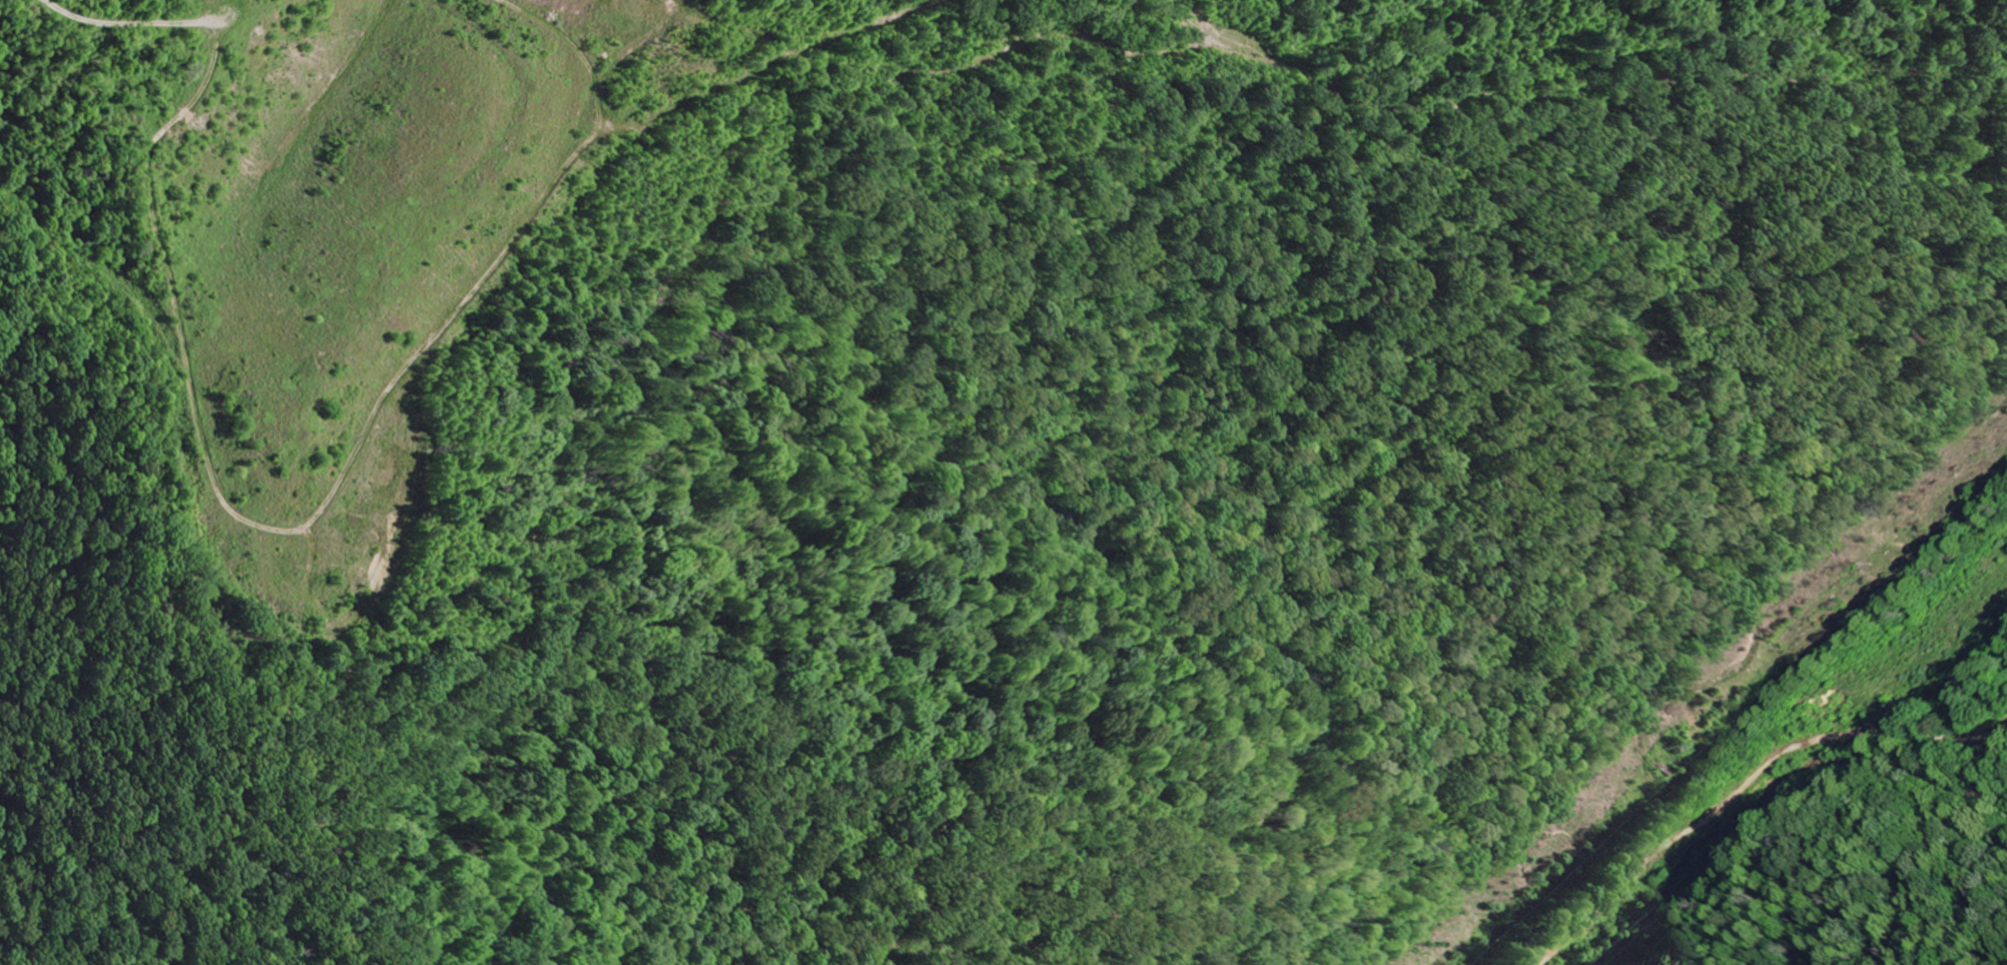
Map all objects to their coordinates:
road: (1753, 805)

